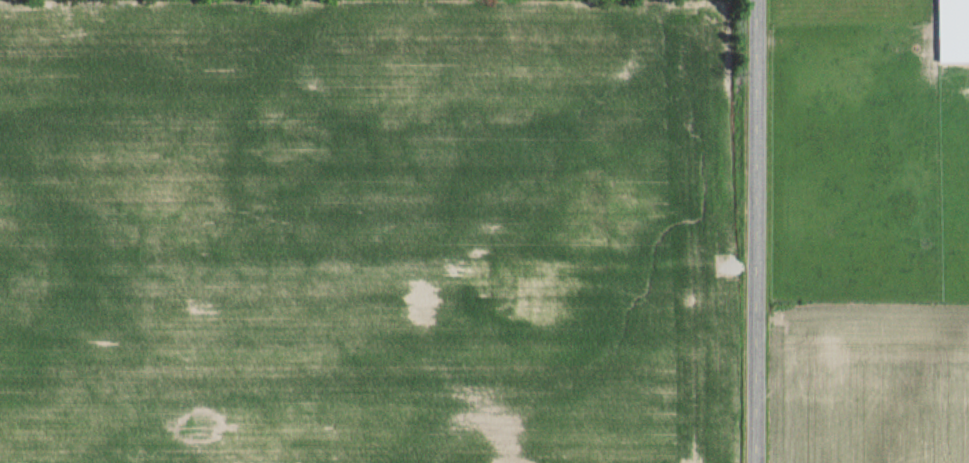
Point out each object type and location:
road: (754, 231)

